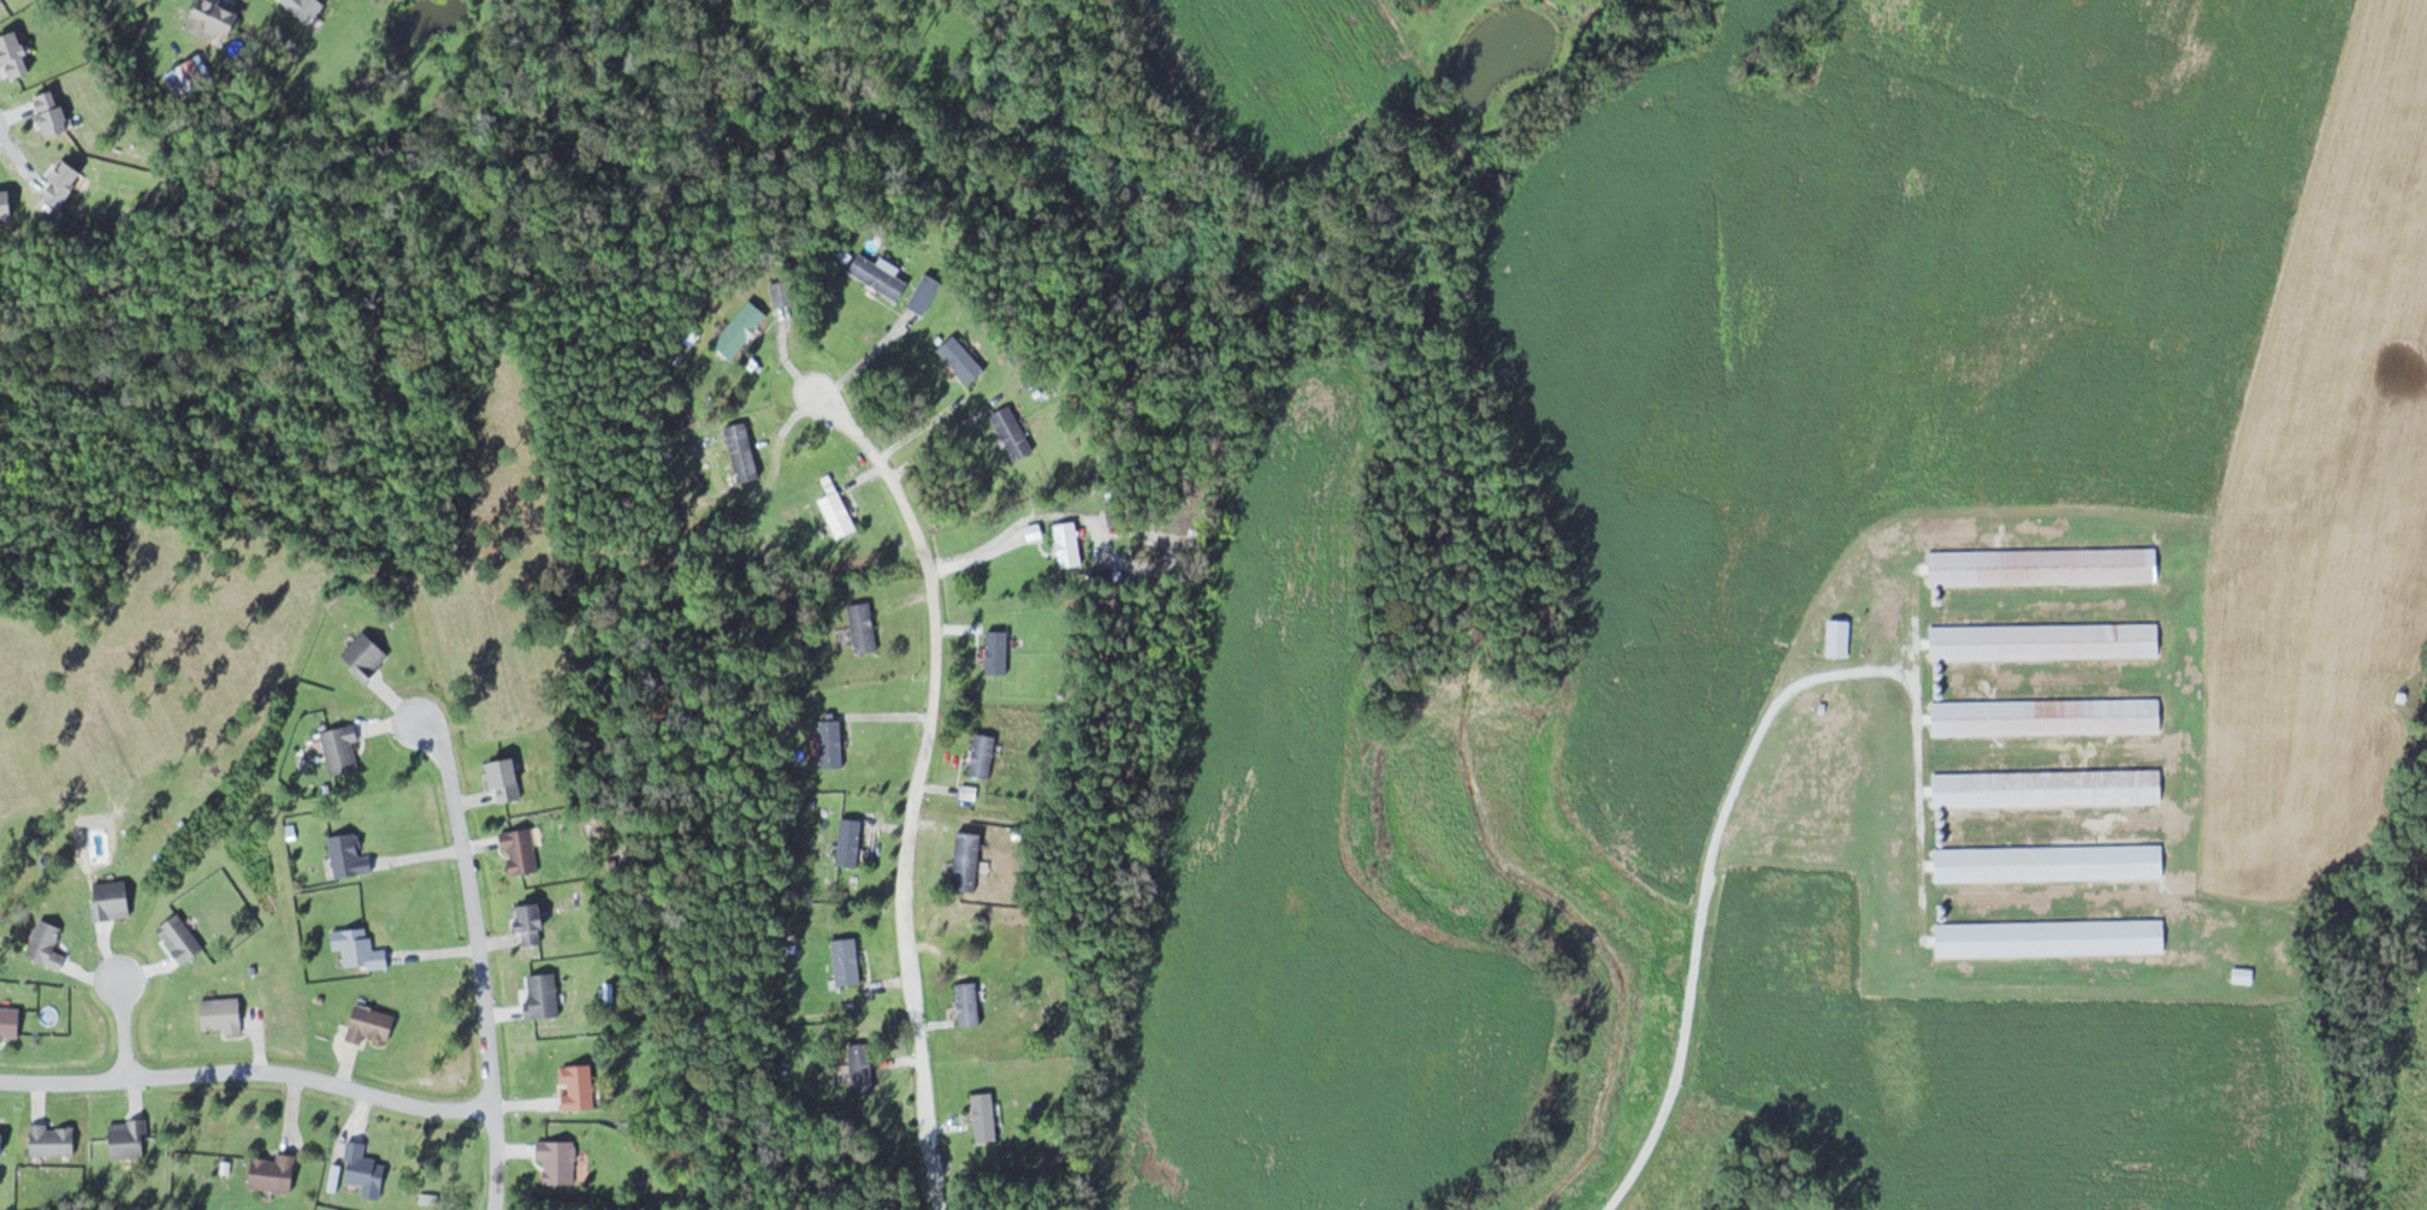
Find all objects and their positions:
building: (4, 2)
building: (217, 20)
building: (17, 54)
crop: (1286, 69)
building: (53, 113)
building: (66, 183)
building: (8, 201)
building: (880, 275)
building: (783, 292)
building: (927, 293)
building: (742, 330)
building: (964, 360)
building: (1014, 433)
building: (745, 452)
building: (841, 515)
building: (1070, 544)
building: (2046, 565)
building: (865, 627)
building: (1840, 637)
building: (2046, 640)
building: (999, 652)
building: (2048, 716)
building: (834, 742)
building: (984, 754)
building: (508, 778)
road: (916, 781)
building: (2049, 787)
building: (852, 841)
building: (522, 850)
building: (350, 854)
building: (969, 859)
building: (2050, 861)
building: (534, 920)
building: (2052, 937)
building: (360, 947)
road: (476, 954)
building: (848, 960)
building: (544, 995)
building: (971, 1003)
building: (224, 1014)
building: (11, 1021)
road: (124, 1024)
building: (373, 1024)
building: (864, 1067)
road: (248, 1072)
building: (581, 1086)
building: (987, 1115)
building: (4, 1139)
building: (560, 1159)
building: (367, 1169)
building: (276, 1172)

